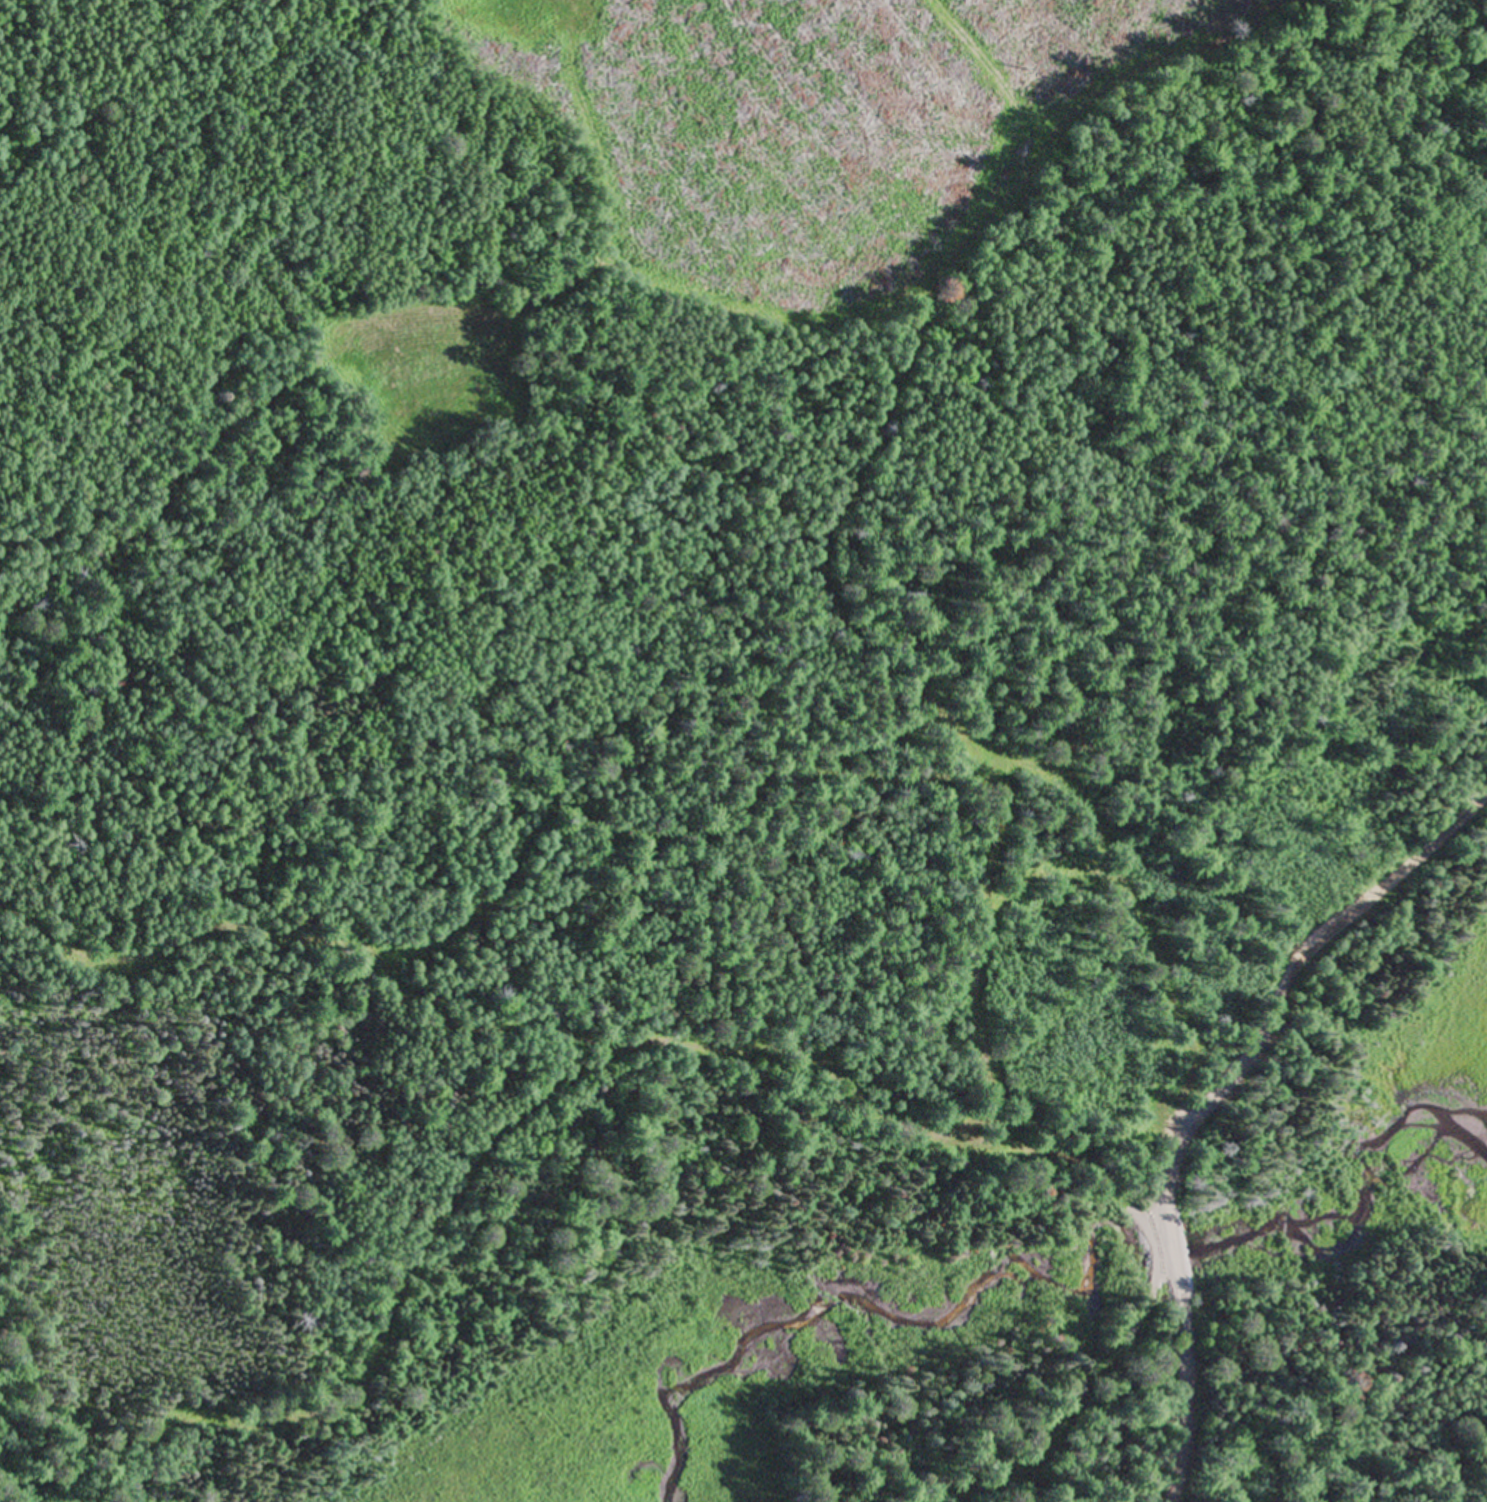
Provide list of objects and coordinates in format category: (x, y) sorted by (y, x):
road: (1208, 1101)

